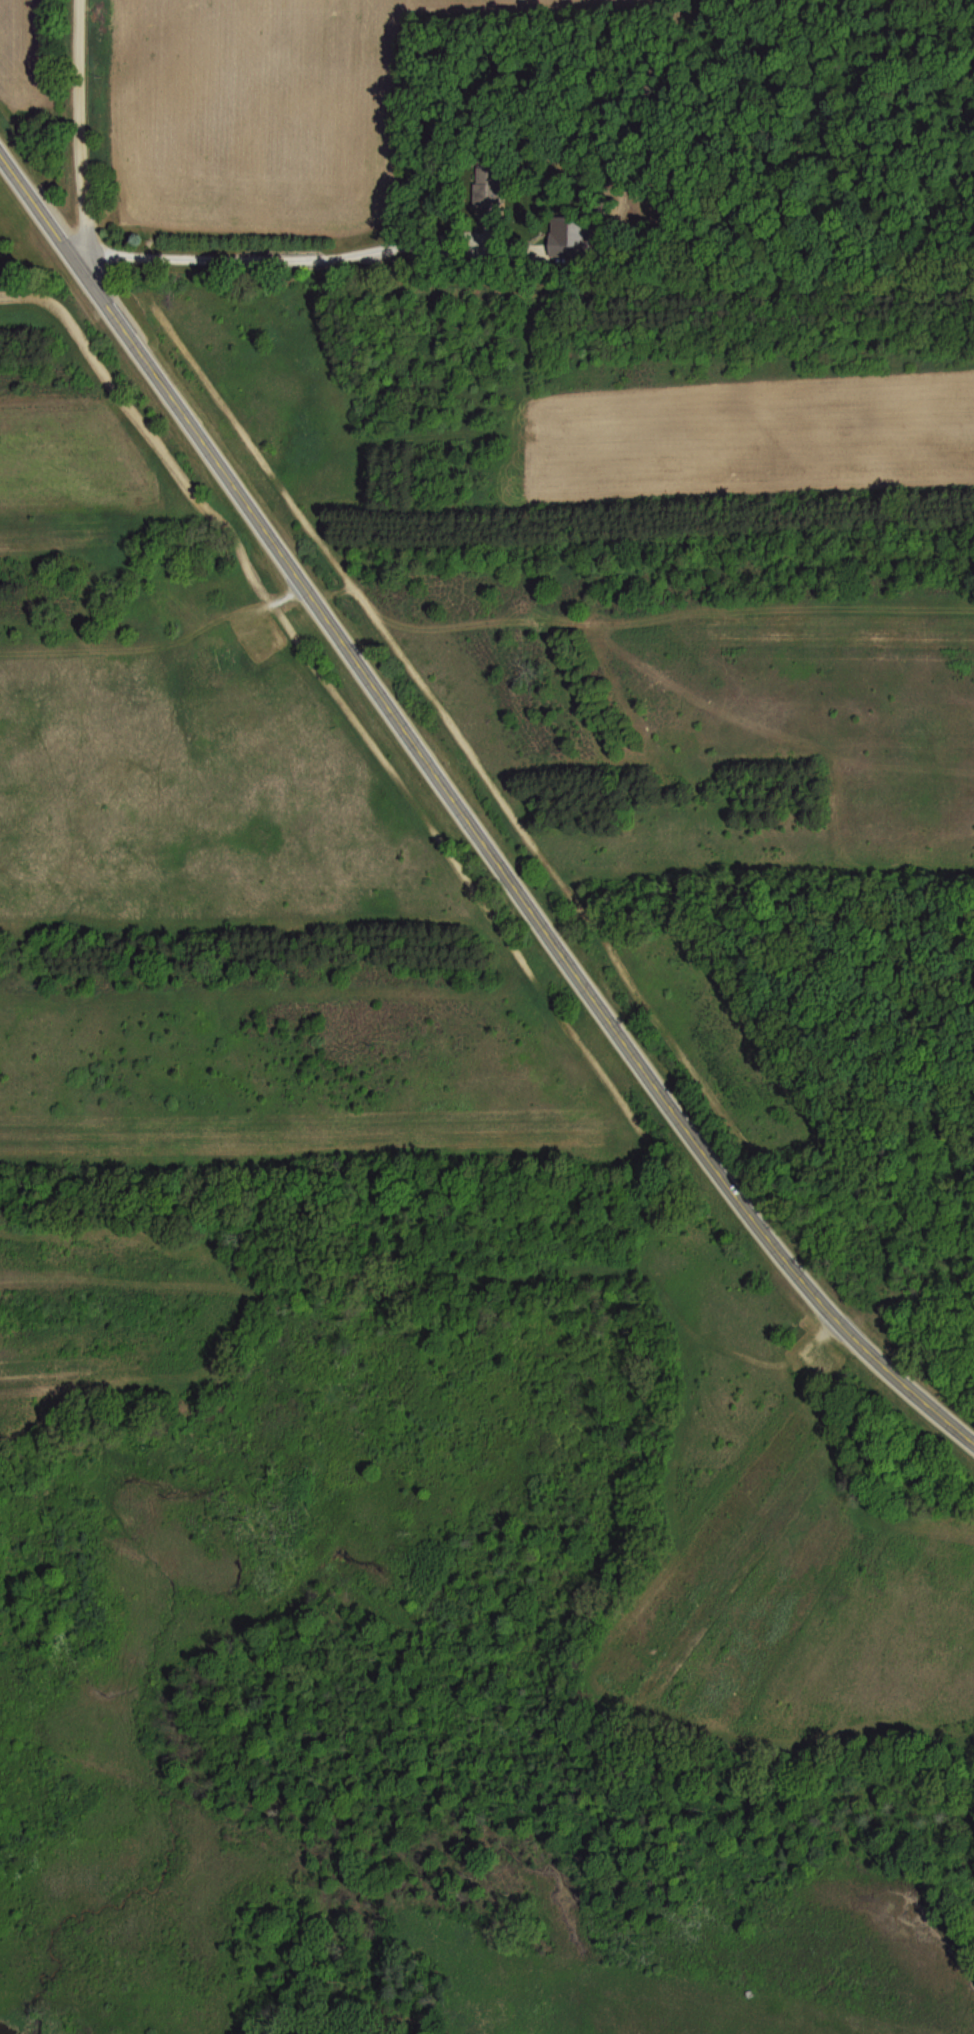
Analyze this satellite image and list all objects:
crop: (36, 87)
road: (75, 127)
building: (490, 193)
building: (572, 233)
road: (467, 238)
road: (242, 253)
road: (467, 816)

